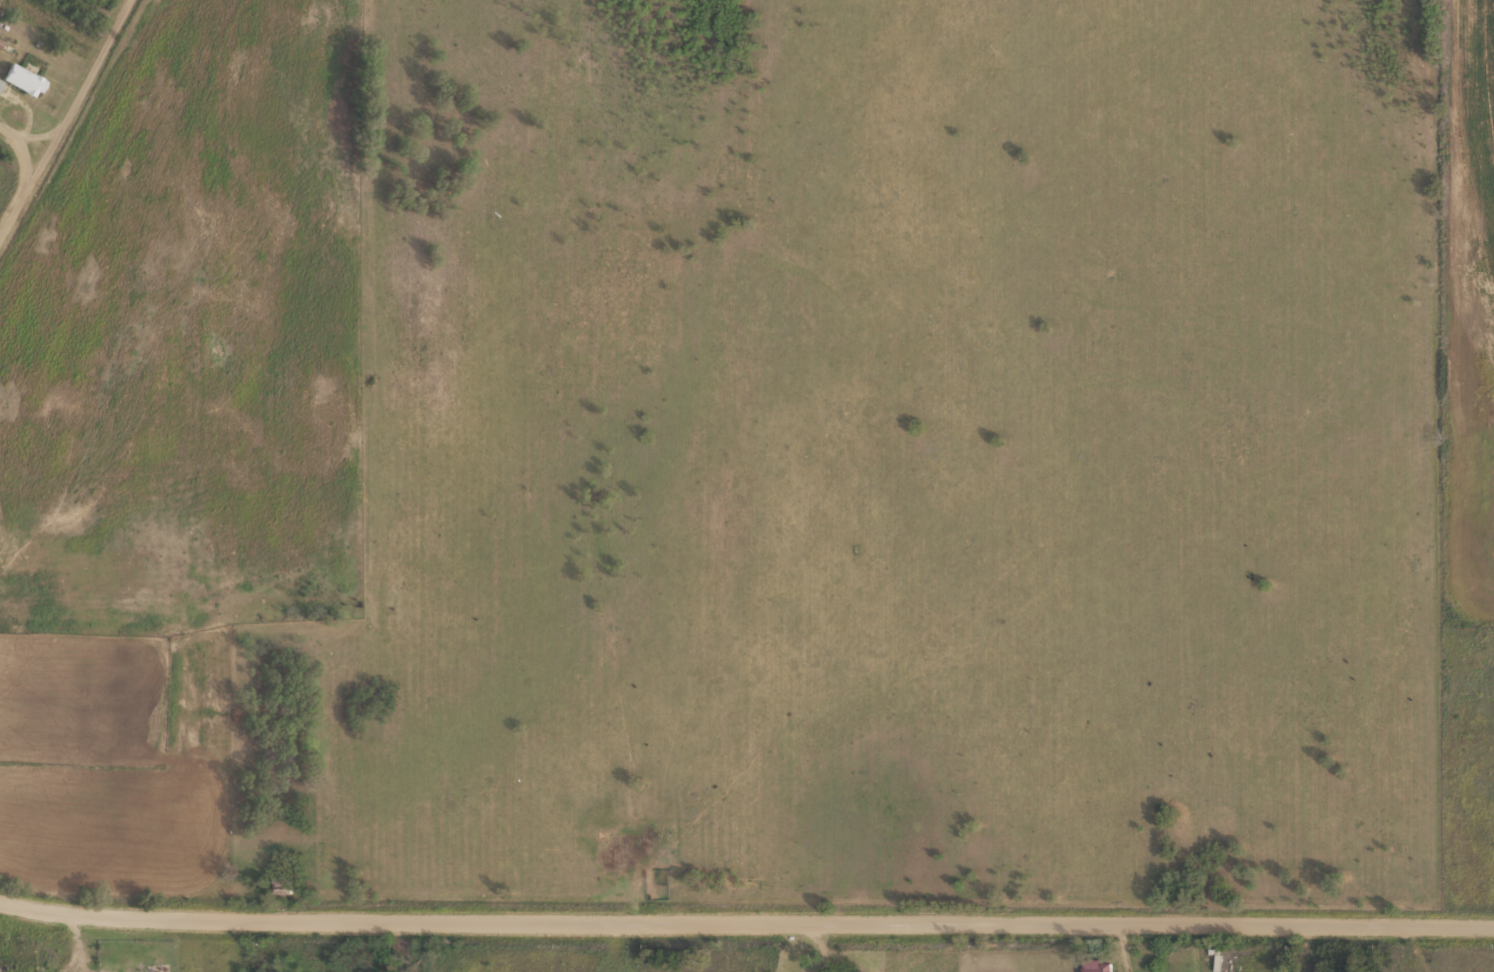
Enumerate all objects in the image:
building: (23, 78)
building: (0, 81)
road: (63, 119)
road: (24, 135)
road: (746, 921)
road: (78, 947)
building: (1096, 965)
building: (156, 967)
road: (2, 971)

